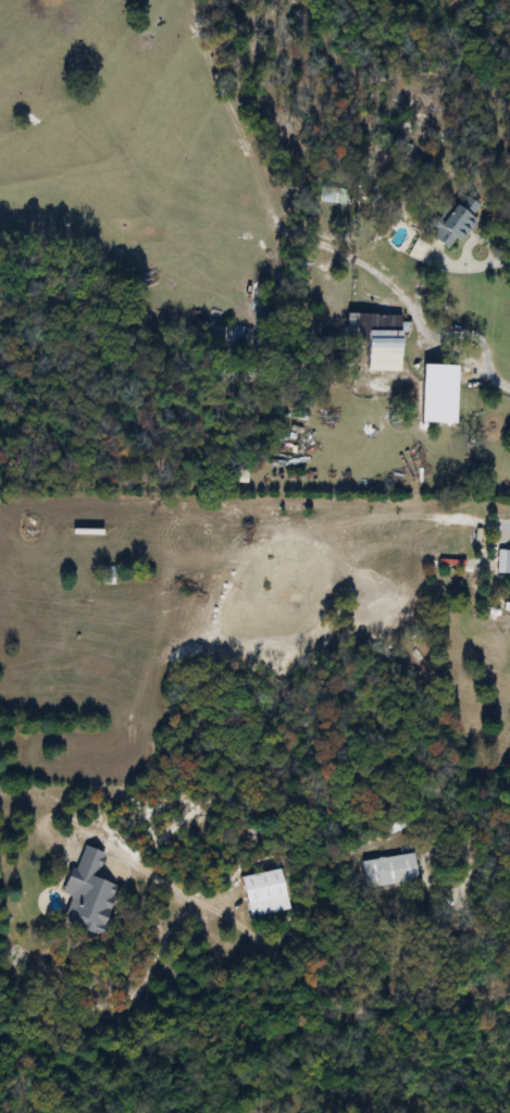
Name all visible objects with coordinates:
building: (453, 223)
road: (495, 257)
building: (380, 341)
road: (482, 353)
building: (502, 560)
building: (105, 574)
road: (432, 844)
building: (390, 870)
building: (86, 892)
building: (264, 892)
road: (484, 929)
road: (299, 974)

